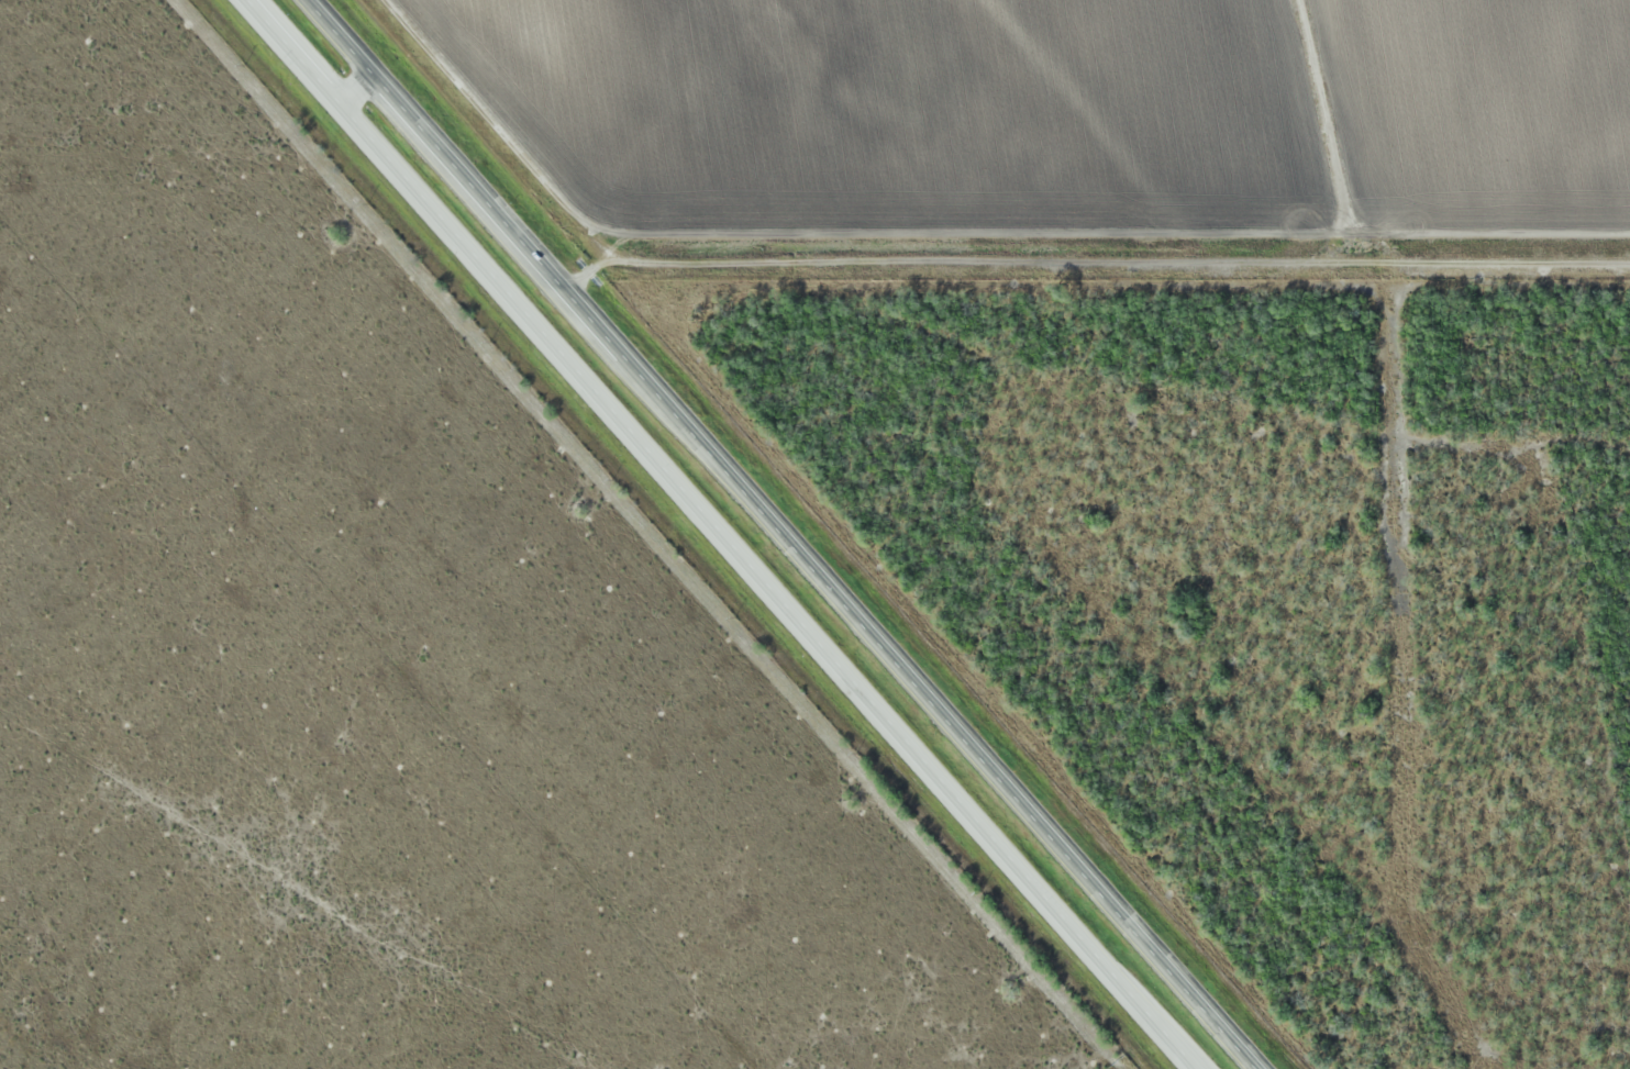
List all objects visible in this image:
road: (355, 82)
road: (951, 260)
road: (790, 532)
road: (725, 534)

